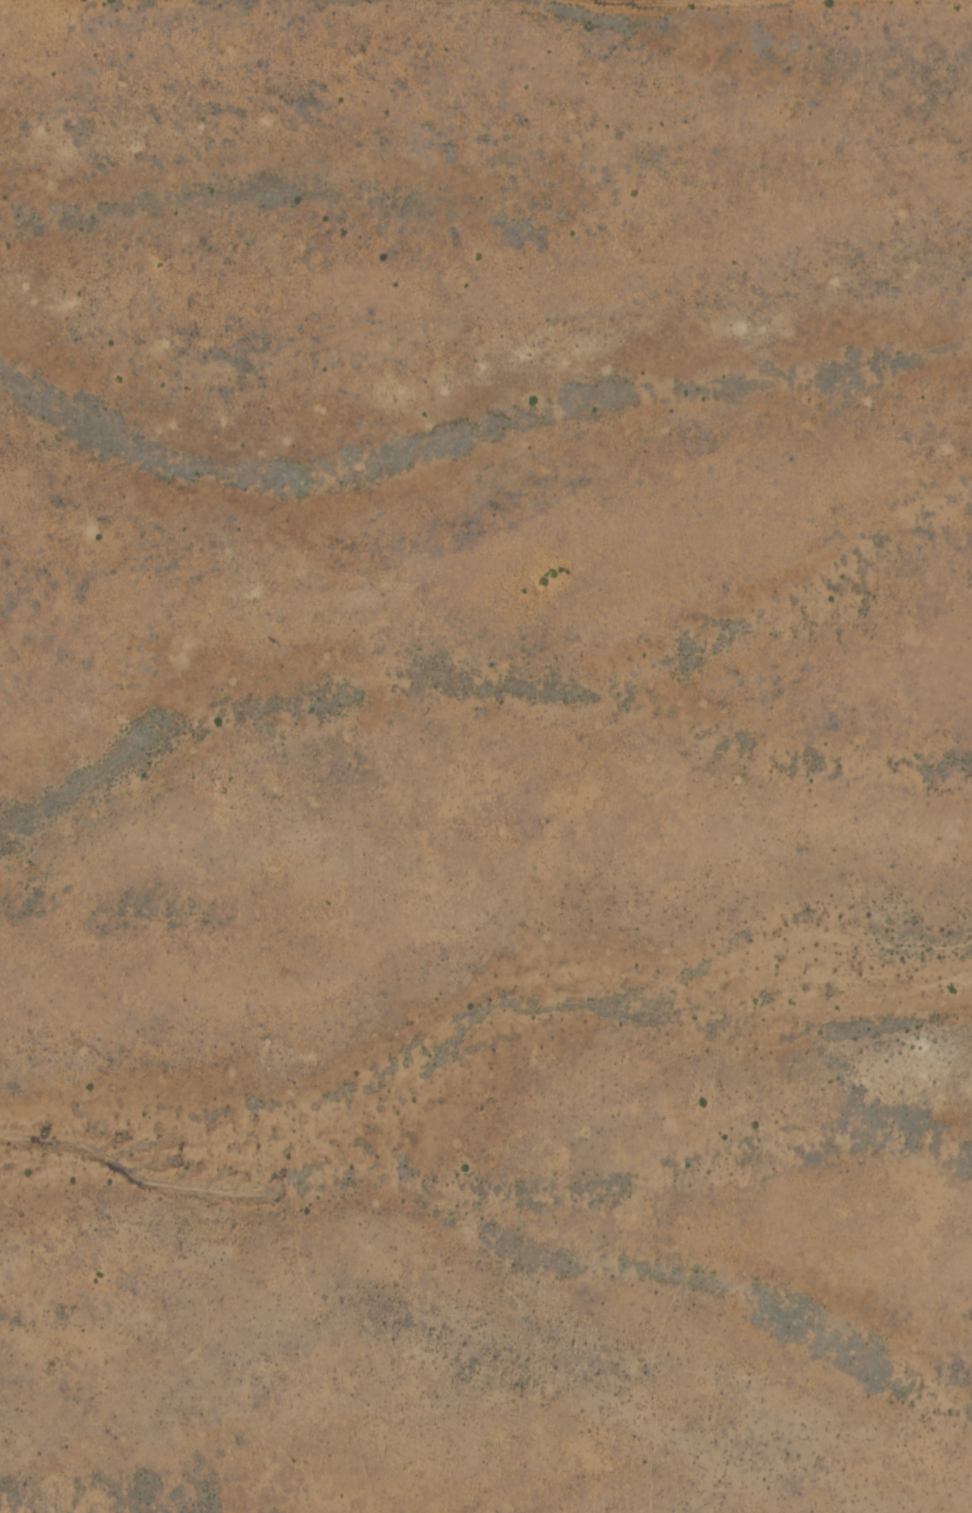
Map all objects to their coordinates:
road: (859, 9)

